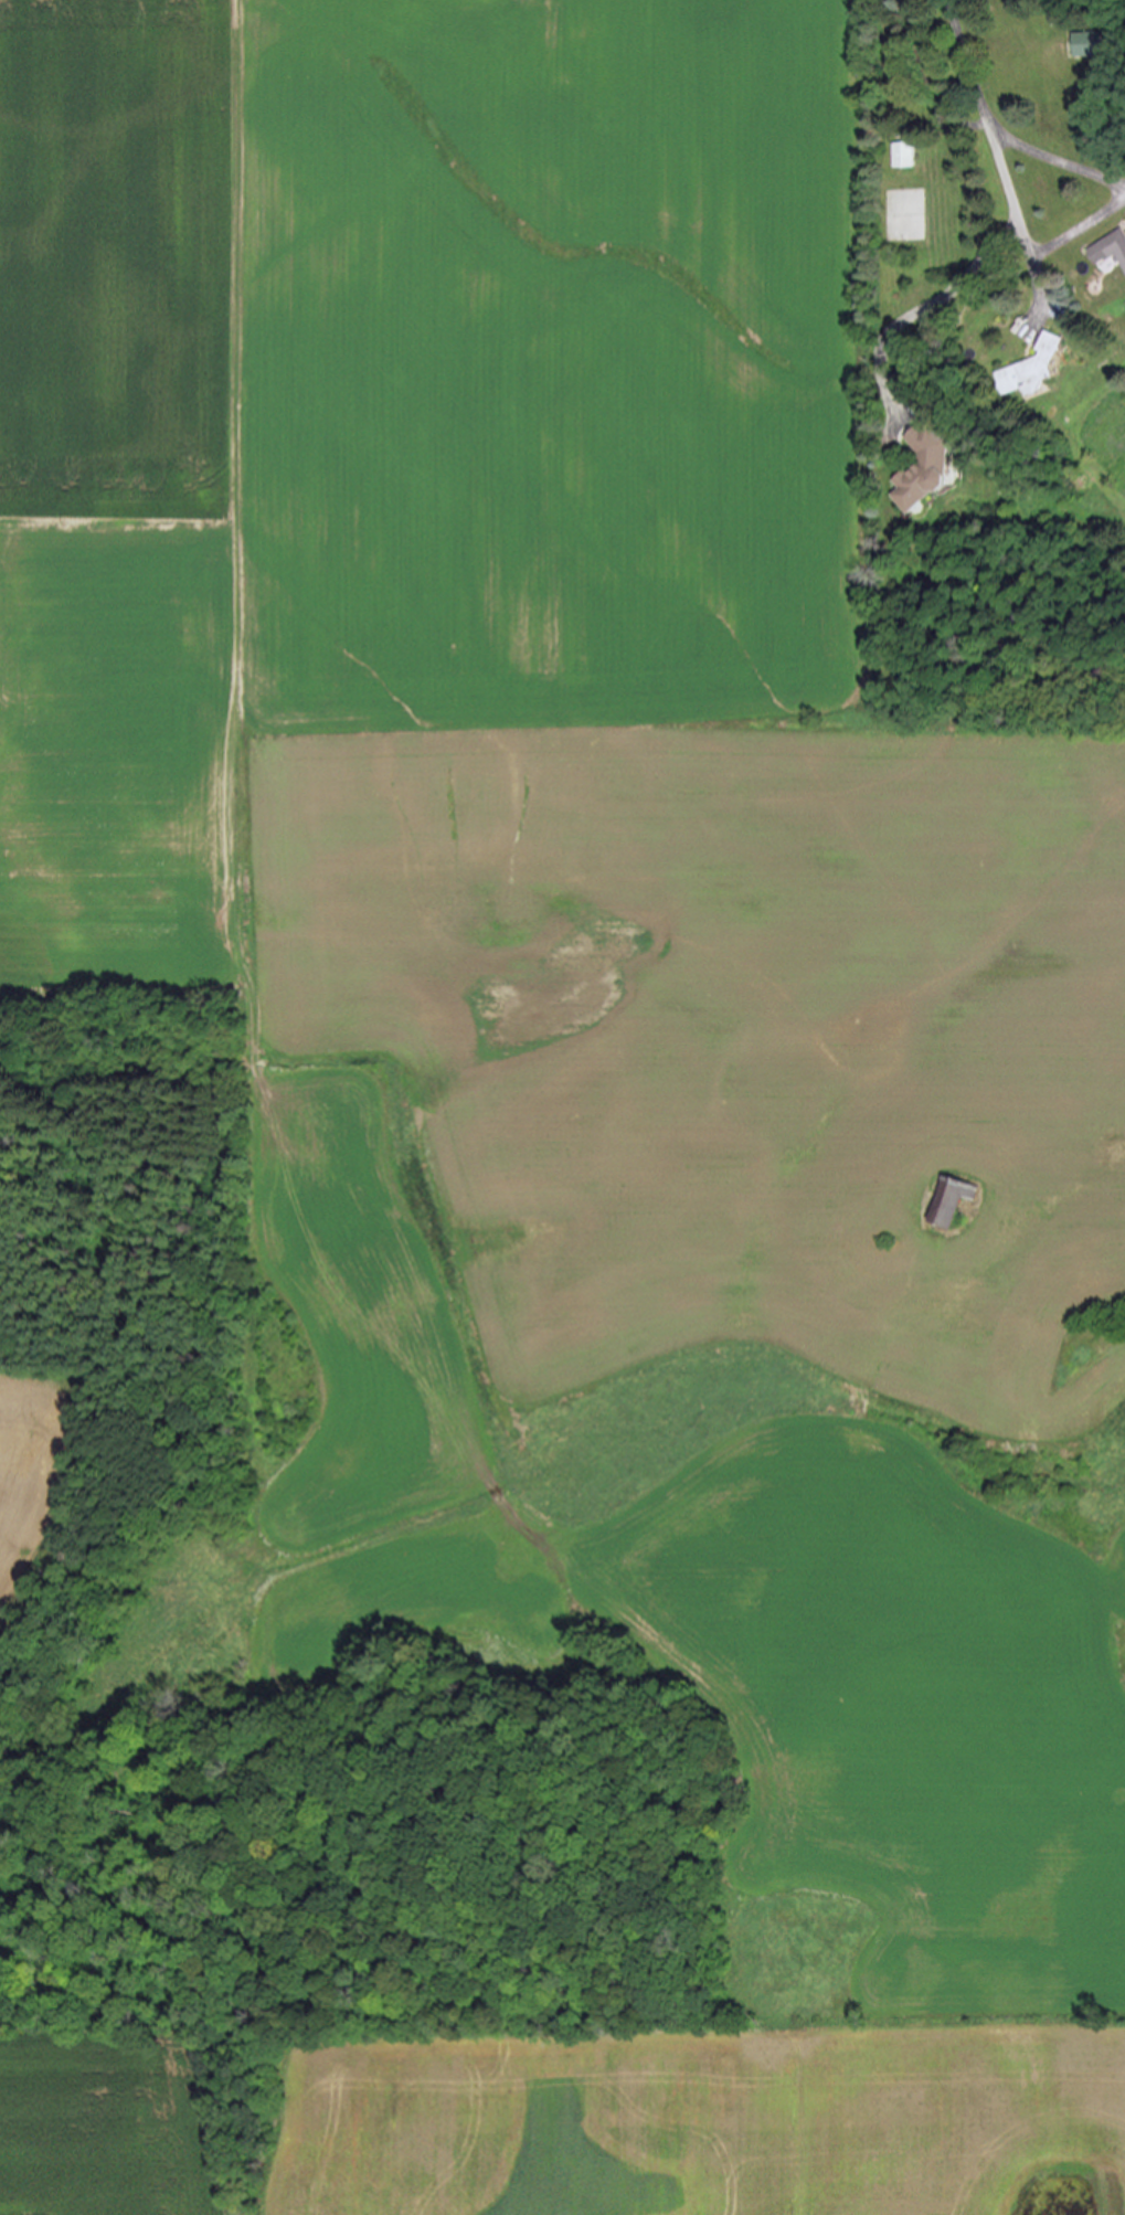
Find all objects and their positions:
building: (1086, 45)
building: (900, 156)
road: (1116, 195)
road: (1013, 222)
building: (1107, 251)
building: (1030, 370)
building: (921, 470)
building: (948, 1201)

